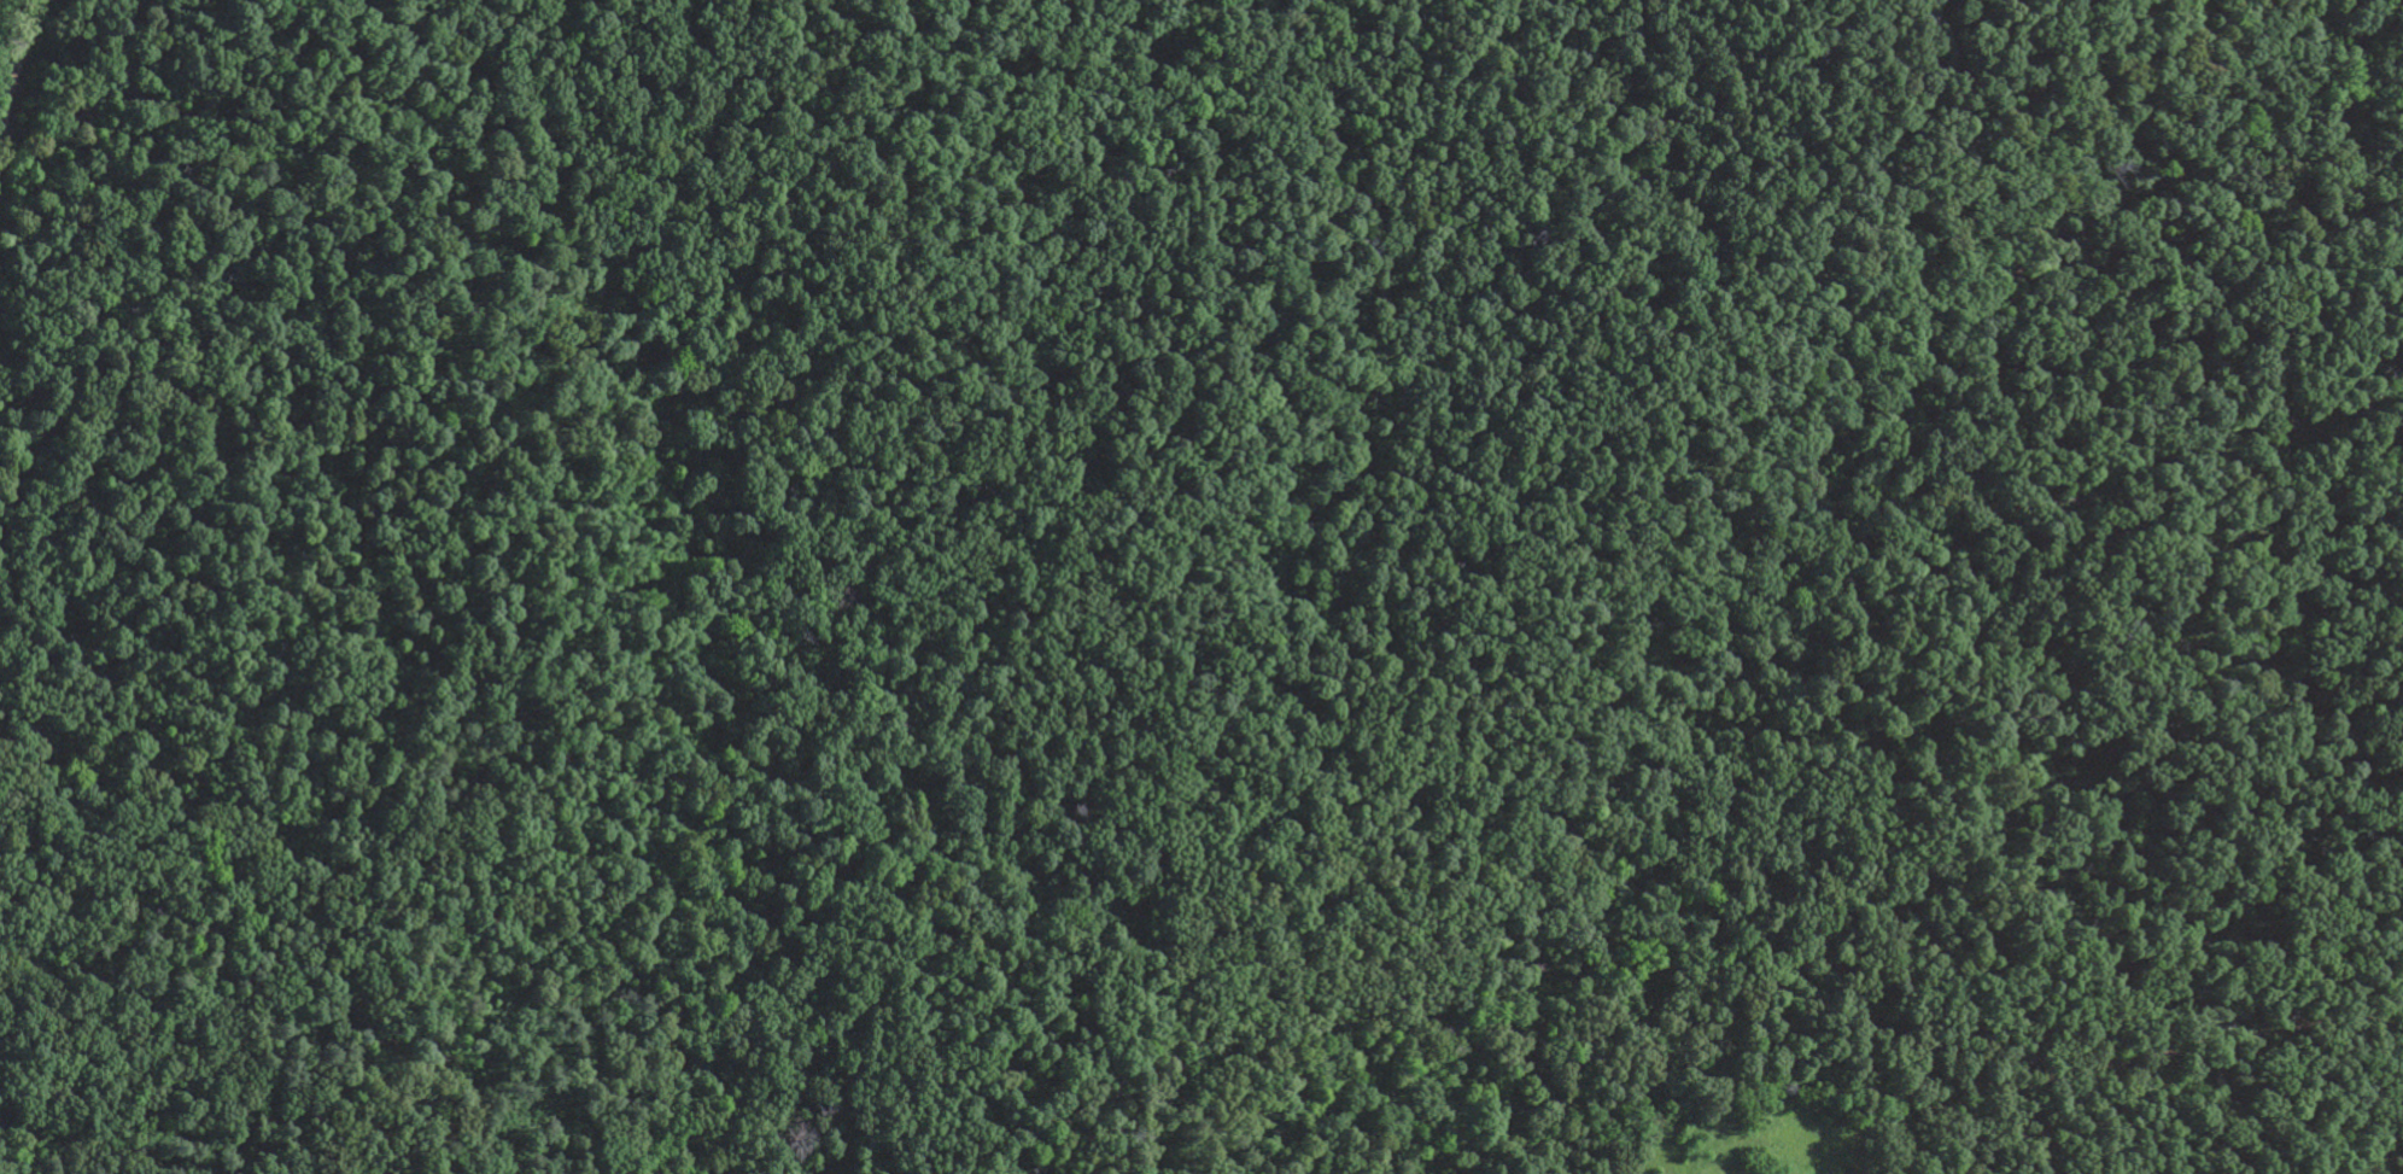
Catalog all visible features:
road: (16, 80)

